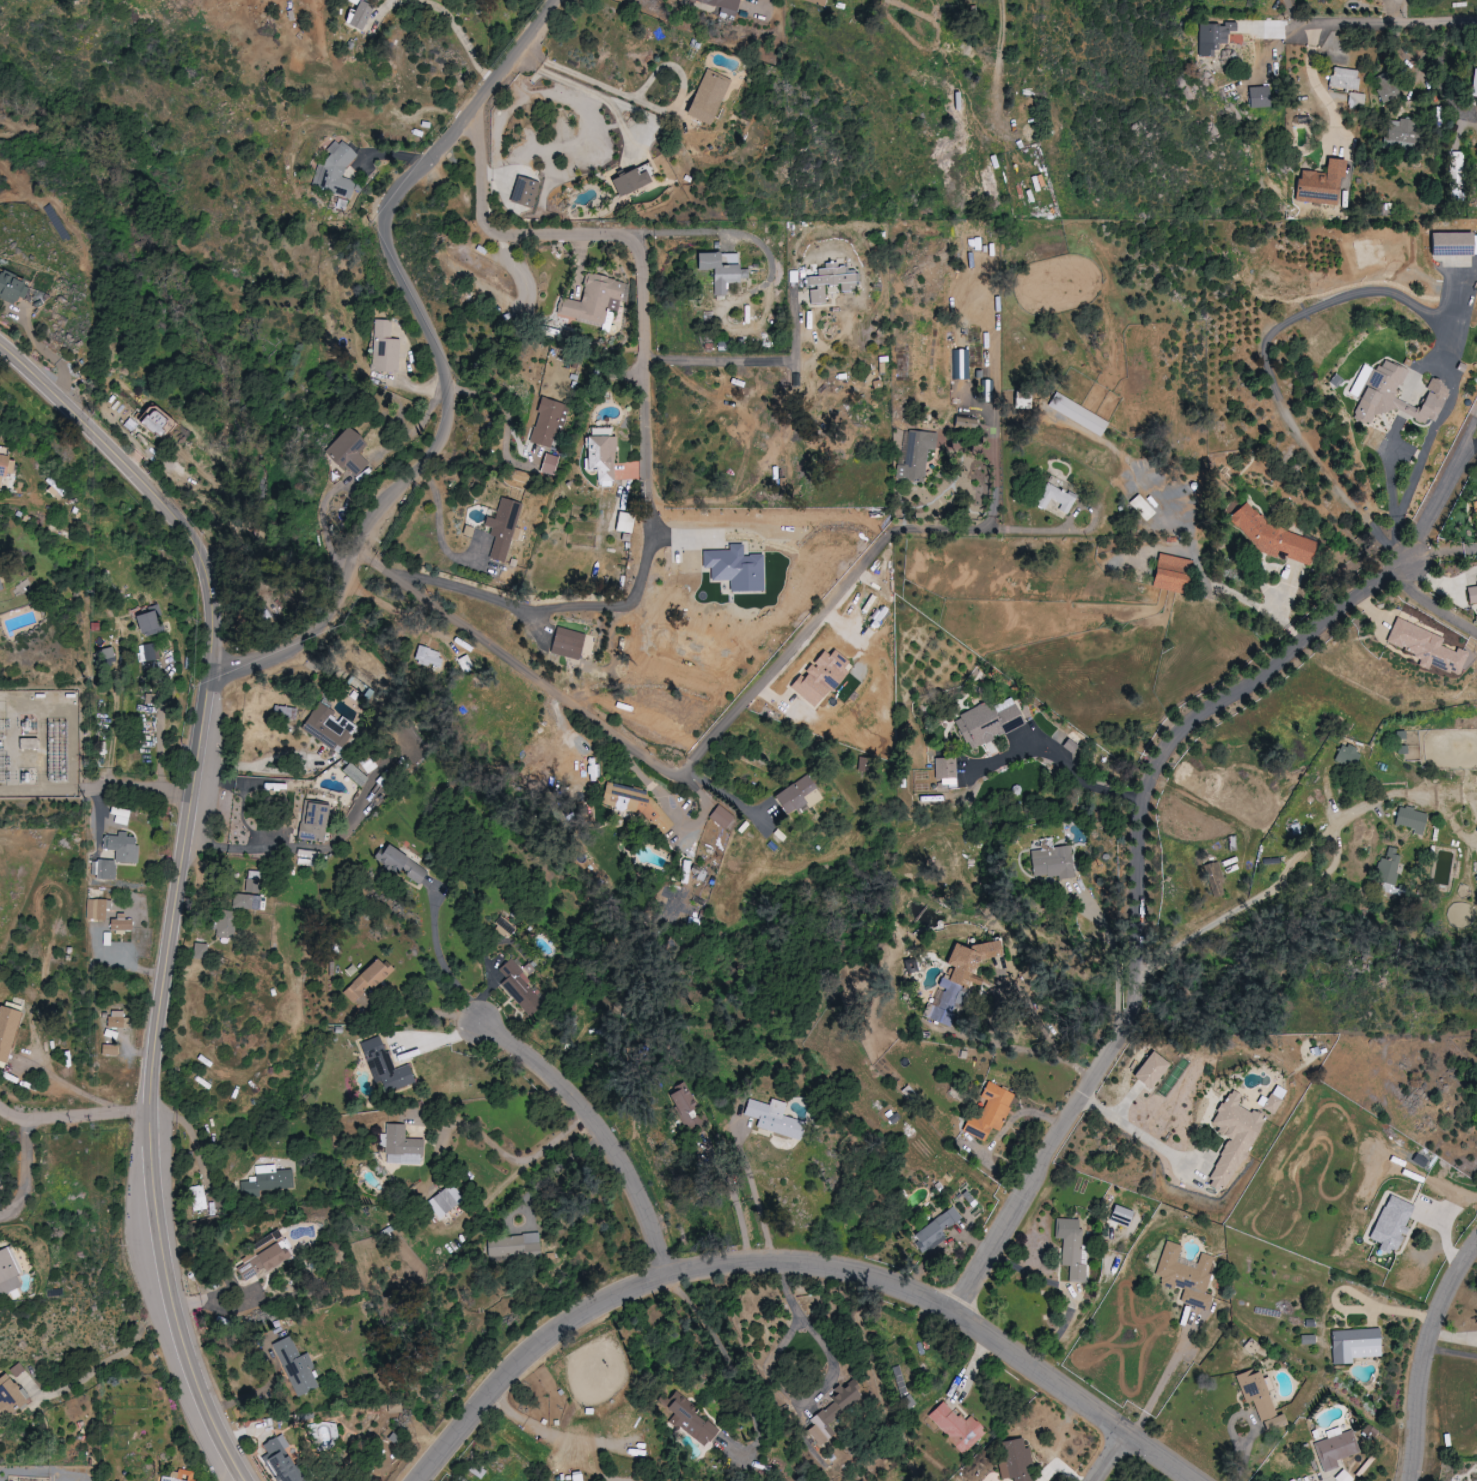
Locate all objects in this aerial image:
building: (817, 2)
road: (767, 4)
building: (722, 5)
road: (1404, 11)
road: (1292, 15)
road: (448, 16)
road: (1392, 22)
building: (1212, 38)
building: (1344, 78)
building: (1473, 83)
building: (1386, 88)
building: (706, 97)
building: (1258, 97)
building: (1356, 99)
building: (1400, 132)
building: (1456, 161)
building: (335, 171)
building: (629, 182)
building: (1319, 183)
building: (525, 192)
road: (536, 236)
building: (1453, 243)
building: (721, 269)
building: (831, 281)
building: (9, 286)
road: (1347, 296)
building: (592, 301)
road: (448, 359)
road: (752, 360)
building: (1392, 394)
building: (1077, 413)
road: (510, 417)
building: (150, 421)
building: (548, 421)
building: (963, 423)
road: (646, 439)
building: (347, 452)
building: (599, 455)
building: (915, 455)
building: (549, 464)
building: (3, 469)
road: (1391, 472)
road: (995, 487)
building: (1054, 498)
building: (1474, 509)
road: (1446, 511)
road: (443, 528)
building: (503, 528)
road: (1076, 529)
building: (1271, 536)
building: (1170, 573)
building: (0, 586)
building: (1472, 594)
road: (505, 602)
road: (1430, 602)
building: (148, 623)
building: (567, 643)
building: (1425, 647)
building: (151, 652)
building: (464, 662)
building: (987, 722)
building: (327, 727)
power substation: (39, 745)
building: (1347, 755)
road: (695, 759)
road: (1075, 760)
building: (945, 771)
building: (353, 774)
road: (143, 786)
building: (273, 786)
road: (732, 793)
building: (797, 795)
building: (636, 806)
building: (721, 816)
road: (679, 817)
building: (1410, 819)
building: (312, 821)
building: (116, 854)
road: (1308, 855)
building: (1051, 860)
building: (401, 864)
road: (1343, 867)
building: (1387, 867)
building: (1476, 878)
building: (252, 879)
building: (1214, 879)
road: (180, 881)
road: (1133, 894)
building: (245, 901)
building: (97, 909)
building: (120, 923)
building: (225, 923)
building: (200, 951)
road: (445, 959)
building: (958, 978)
building: (365, 981)
building: (515, 983)
building: (7, 1031)
road: (989, 1034)
building: (109, 1050)
building: (384, 1066)
building: (1150, 1070)
road: (76, 1087)
building: (1273, 1099)
building: (687, 1110)
building: (769, 1117)
road: (74, 1119)
road: (1138, 1129)
road: (597, 1137)
building: (1232, 1139)
building: (401, 1146)
road: (512, 1158)
road: (29, 1177)
road: (549, 1177)
building: (267, 1180)
road: (757, 1195)
building: (198, 1198)
building: (444, 1200)
road: (737, 1201)
building: (1120, 1216)
building: (1390, 1224)
building: (934, 1230)
building: (513, 1245)
building: (1071, 1248)
building: (258, 1261)
road: (803, 1263)
building: (8, 1270)
building: (1185, 1276)
road: (820, 1335)
building: (1307, 1339)
building: (1354, 1345)
road: (1451, 1352)
road: (1424, 1354)
road: (109, 1360)
road: (767, 1366)
building: (295, 1367)
road: (738, 1371)
road: (1165, 1378)
building: (1256, 1393)
building: (9, 1398)
building: (832, 1413)
road: (1243, 1414)
building: (688, 1419)
building: (1275, 1423)
building: (955, 1427)
road: (555, 1434)
building: (1335, 1450)
road: (1106, 1455)
building: (279, 1460)
road: (1240, 1464)
building: (176, 1476)
building: (1343, 1477)

